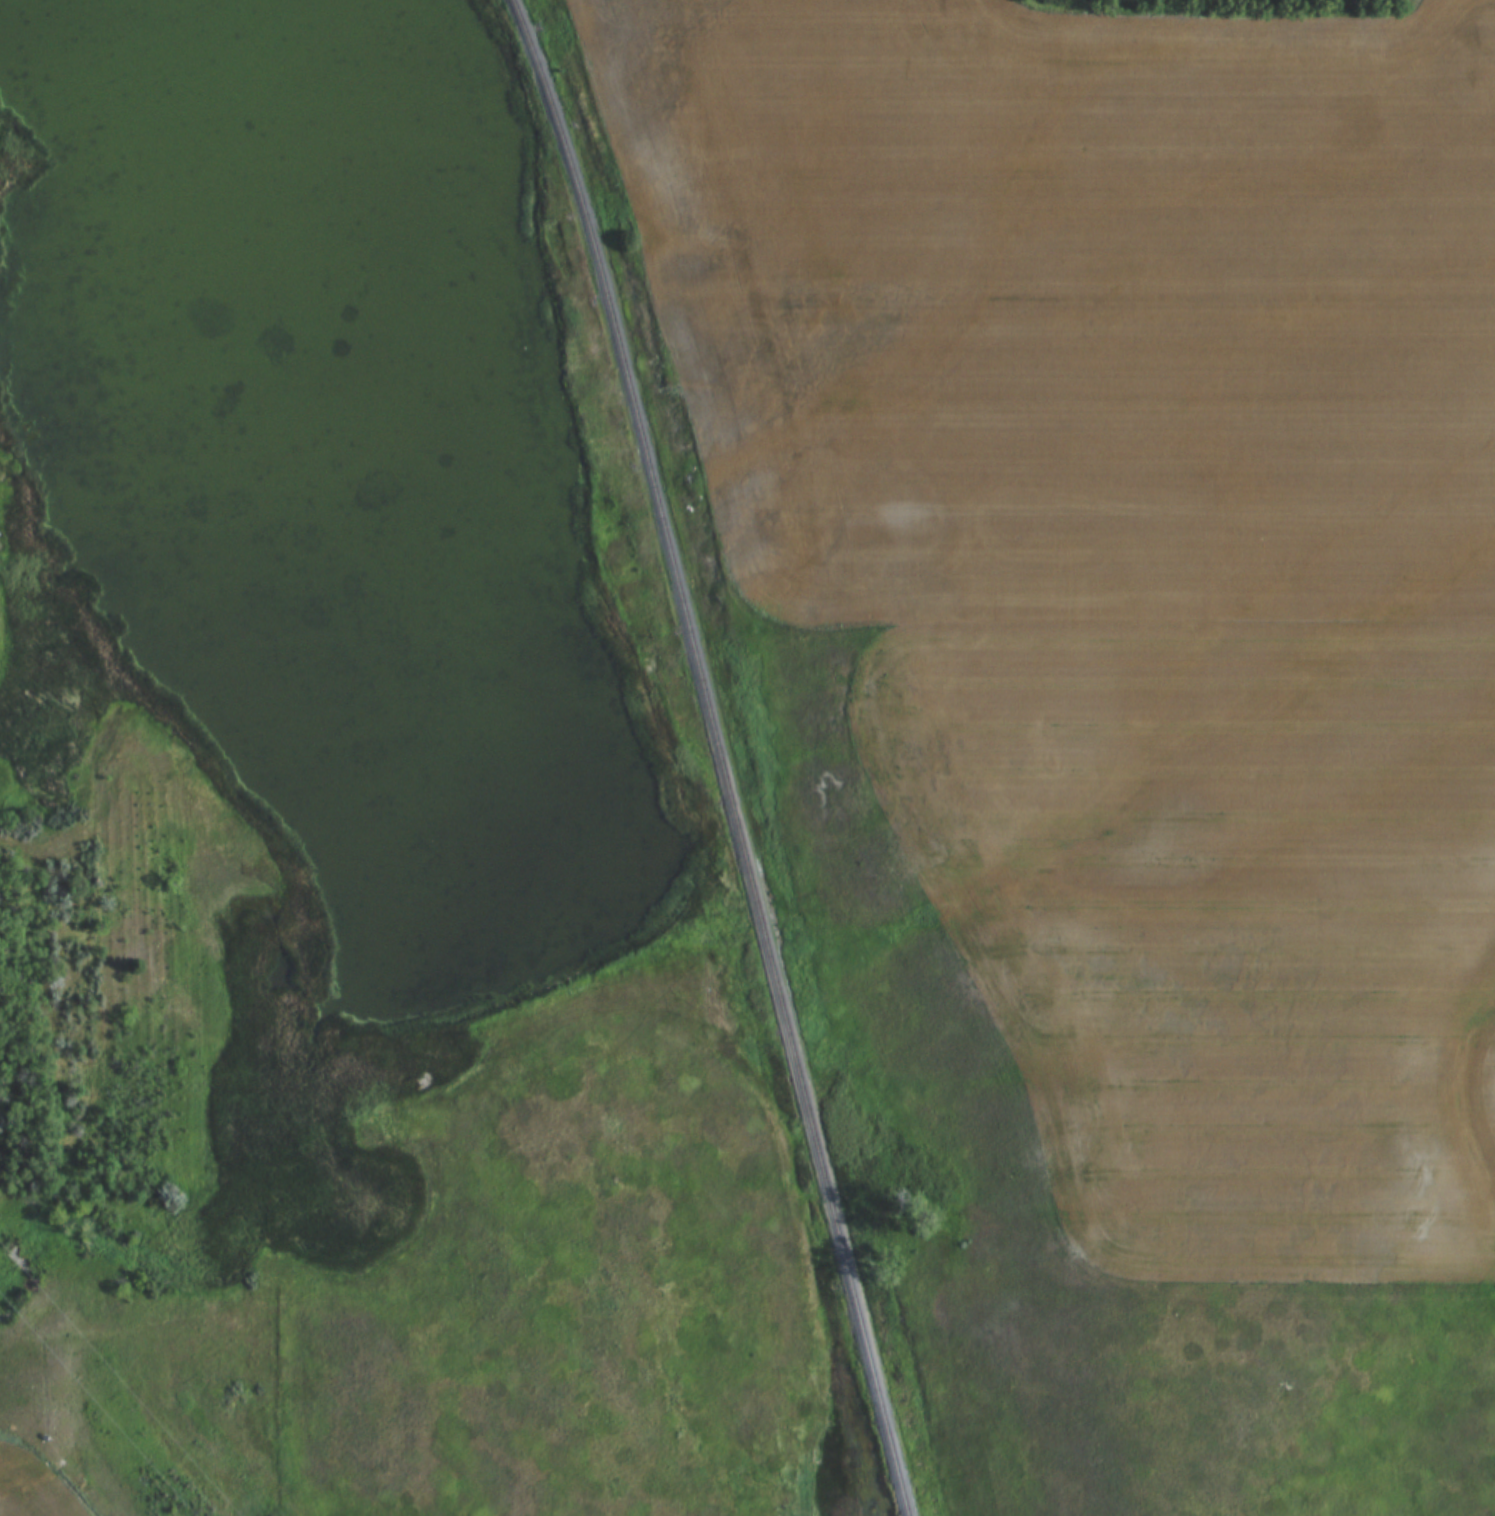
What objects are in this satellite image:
railway: (719, 755)

